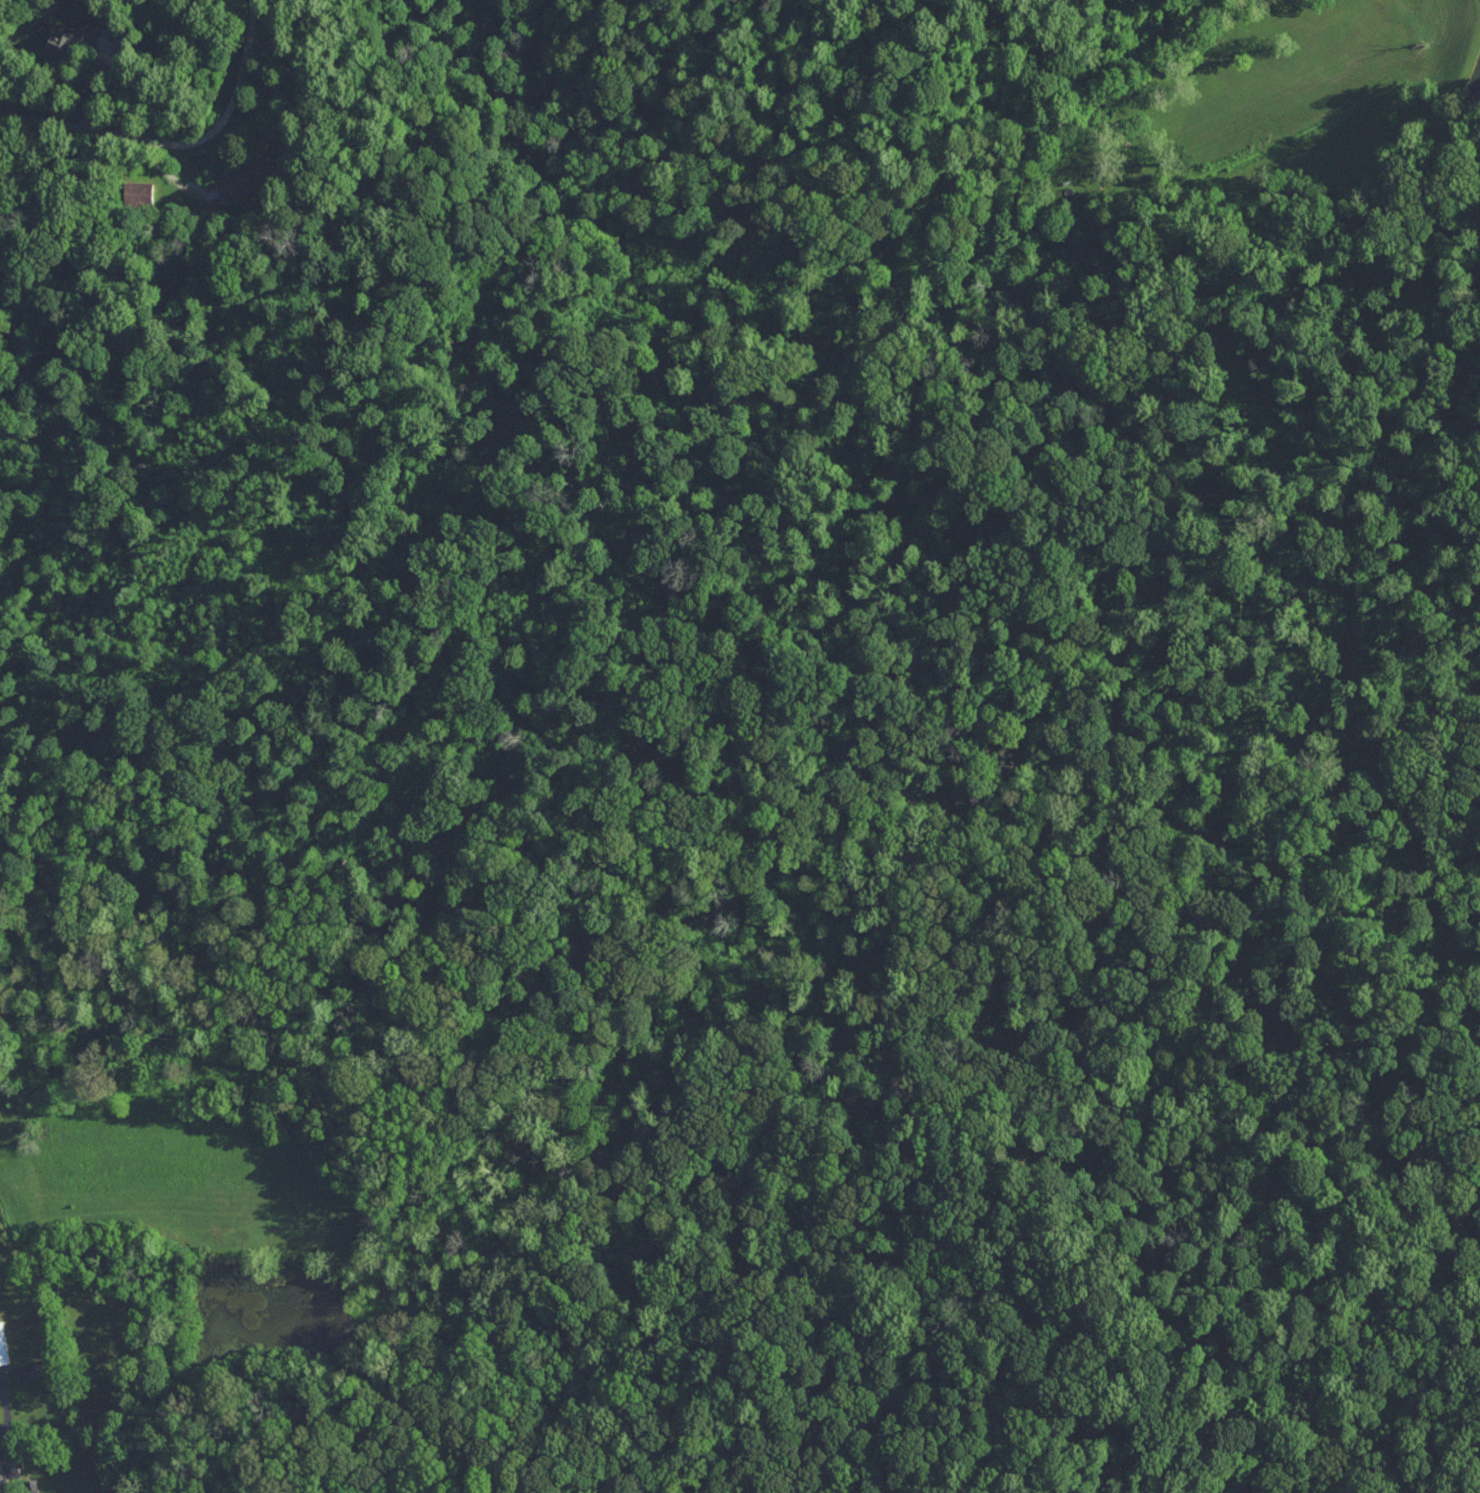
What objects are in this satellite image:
building: (59, 44)
road: (178, 145)
building: (238, 180)
building: (138, 190)
building: (3, 1343)
road: (7, 1406)
building: (8, 1469)

